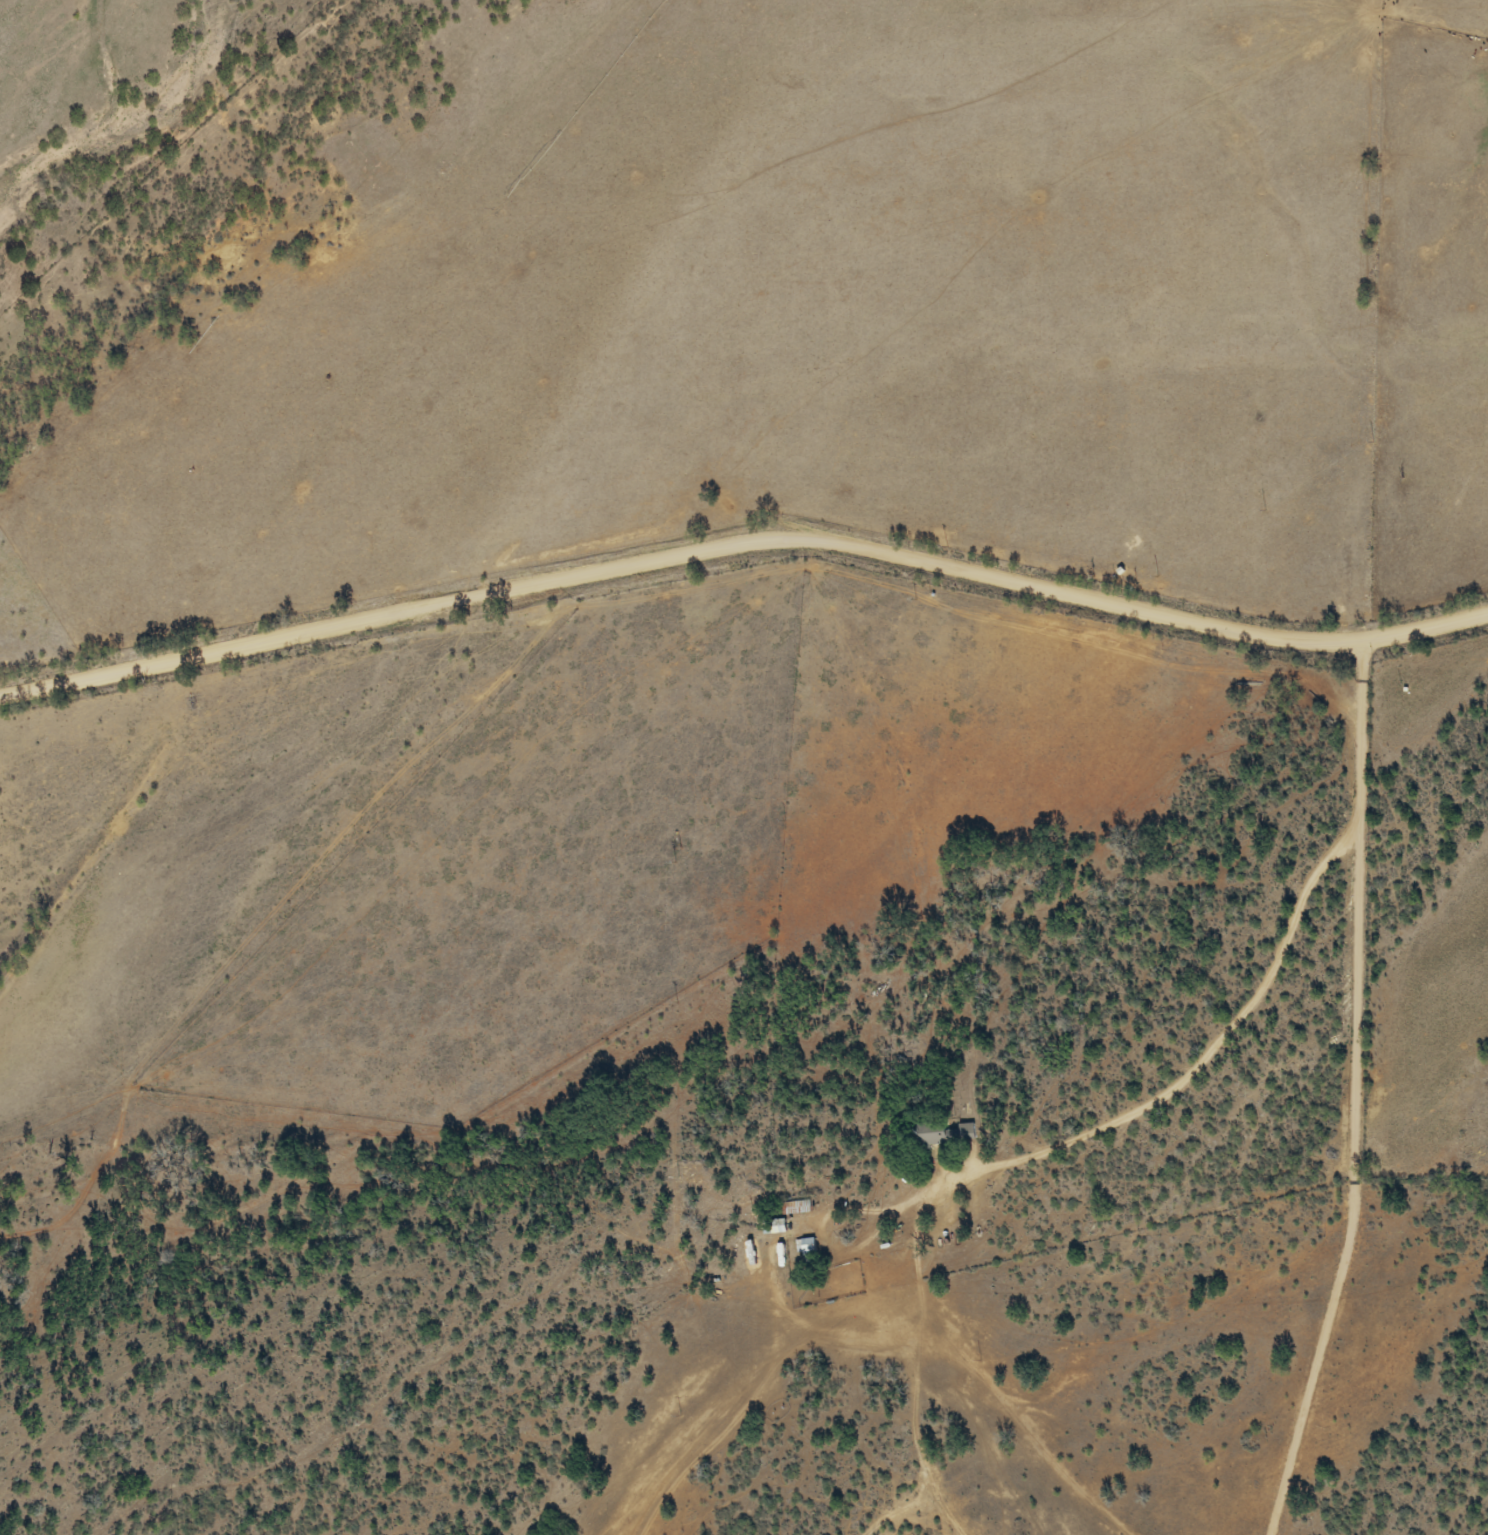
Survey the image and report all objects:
road: (750, 591)
road: (1258, 1005)
building: (951, 1133)
building: (798, 1207)
building: (781, 1226)
building: (809, 1249)

